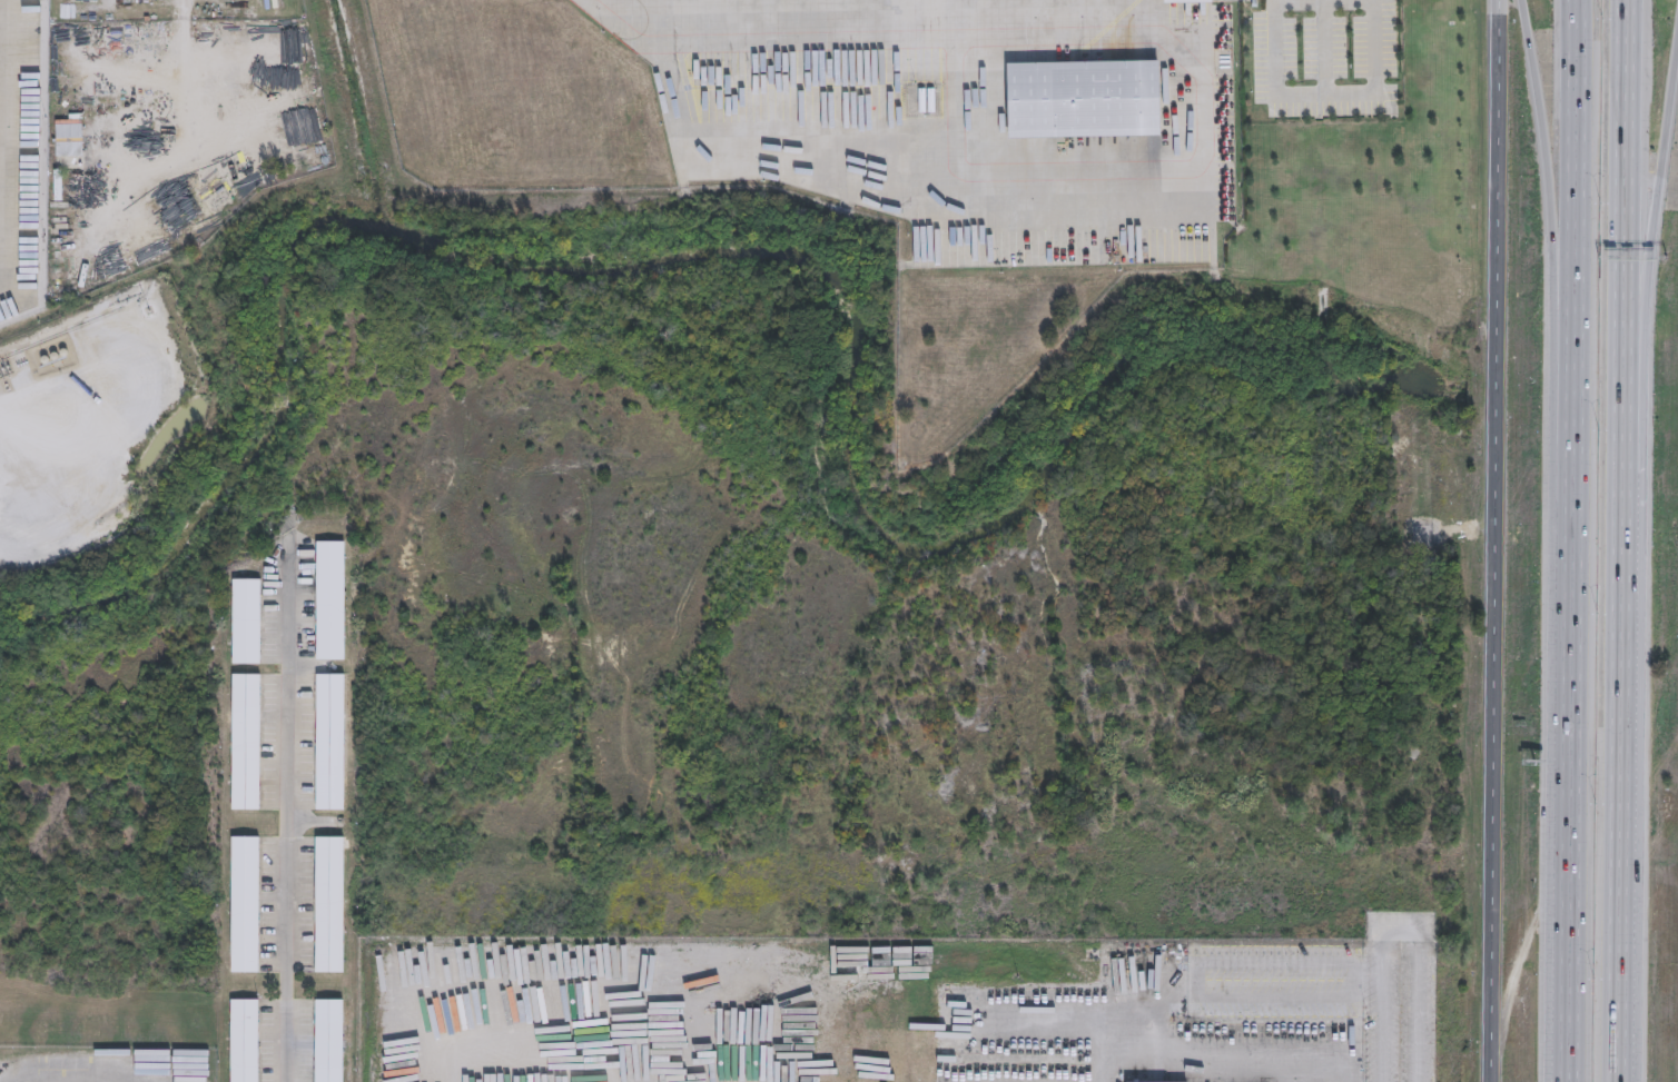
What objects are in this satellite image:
building: (1186, 0)
road: (760, 42)
road: (1302, 95)
building: (1082, 99)
building: (69, 136)
road: (1192, 168)
building: (57, 187)
road: (1558, 217)
road: (1575, 218)
road: (1623, 311)
road: (1651, 348)
road: (1499, 540)
building: (327, 599)
building: (244, 621)
building: (328, 739)
building: (244, 743)
road: (1567, 758)
road: (288, 806)
road: (1625, 852)
building: (243, 905)
building: (327, 905)
building: (241, 1041)
building: (328, 1041)
road: (1215, 1064)
building: (1132, 1081)

